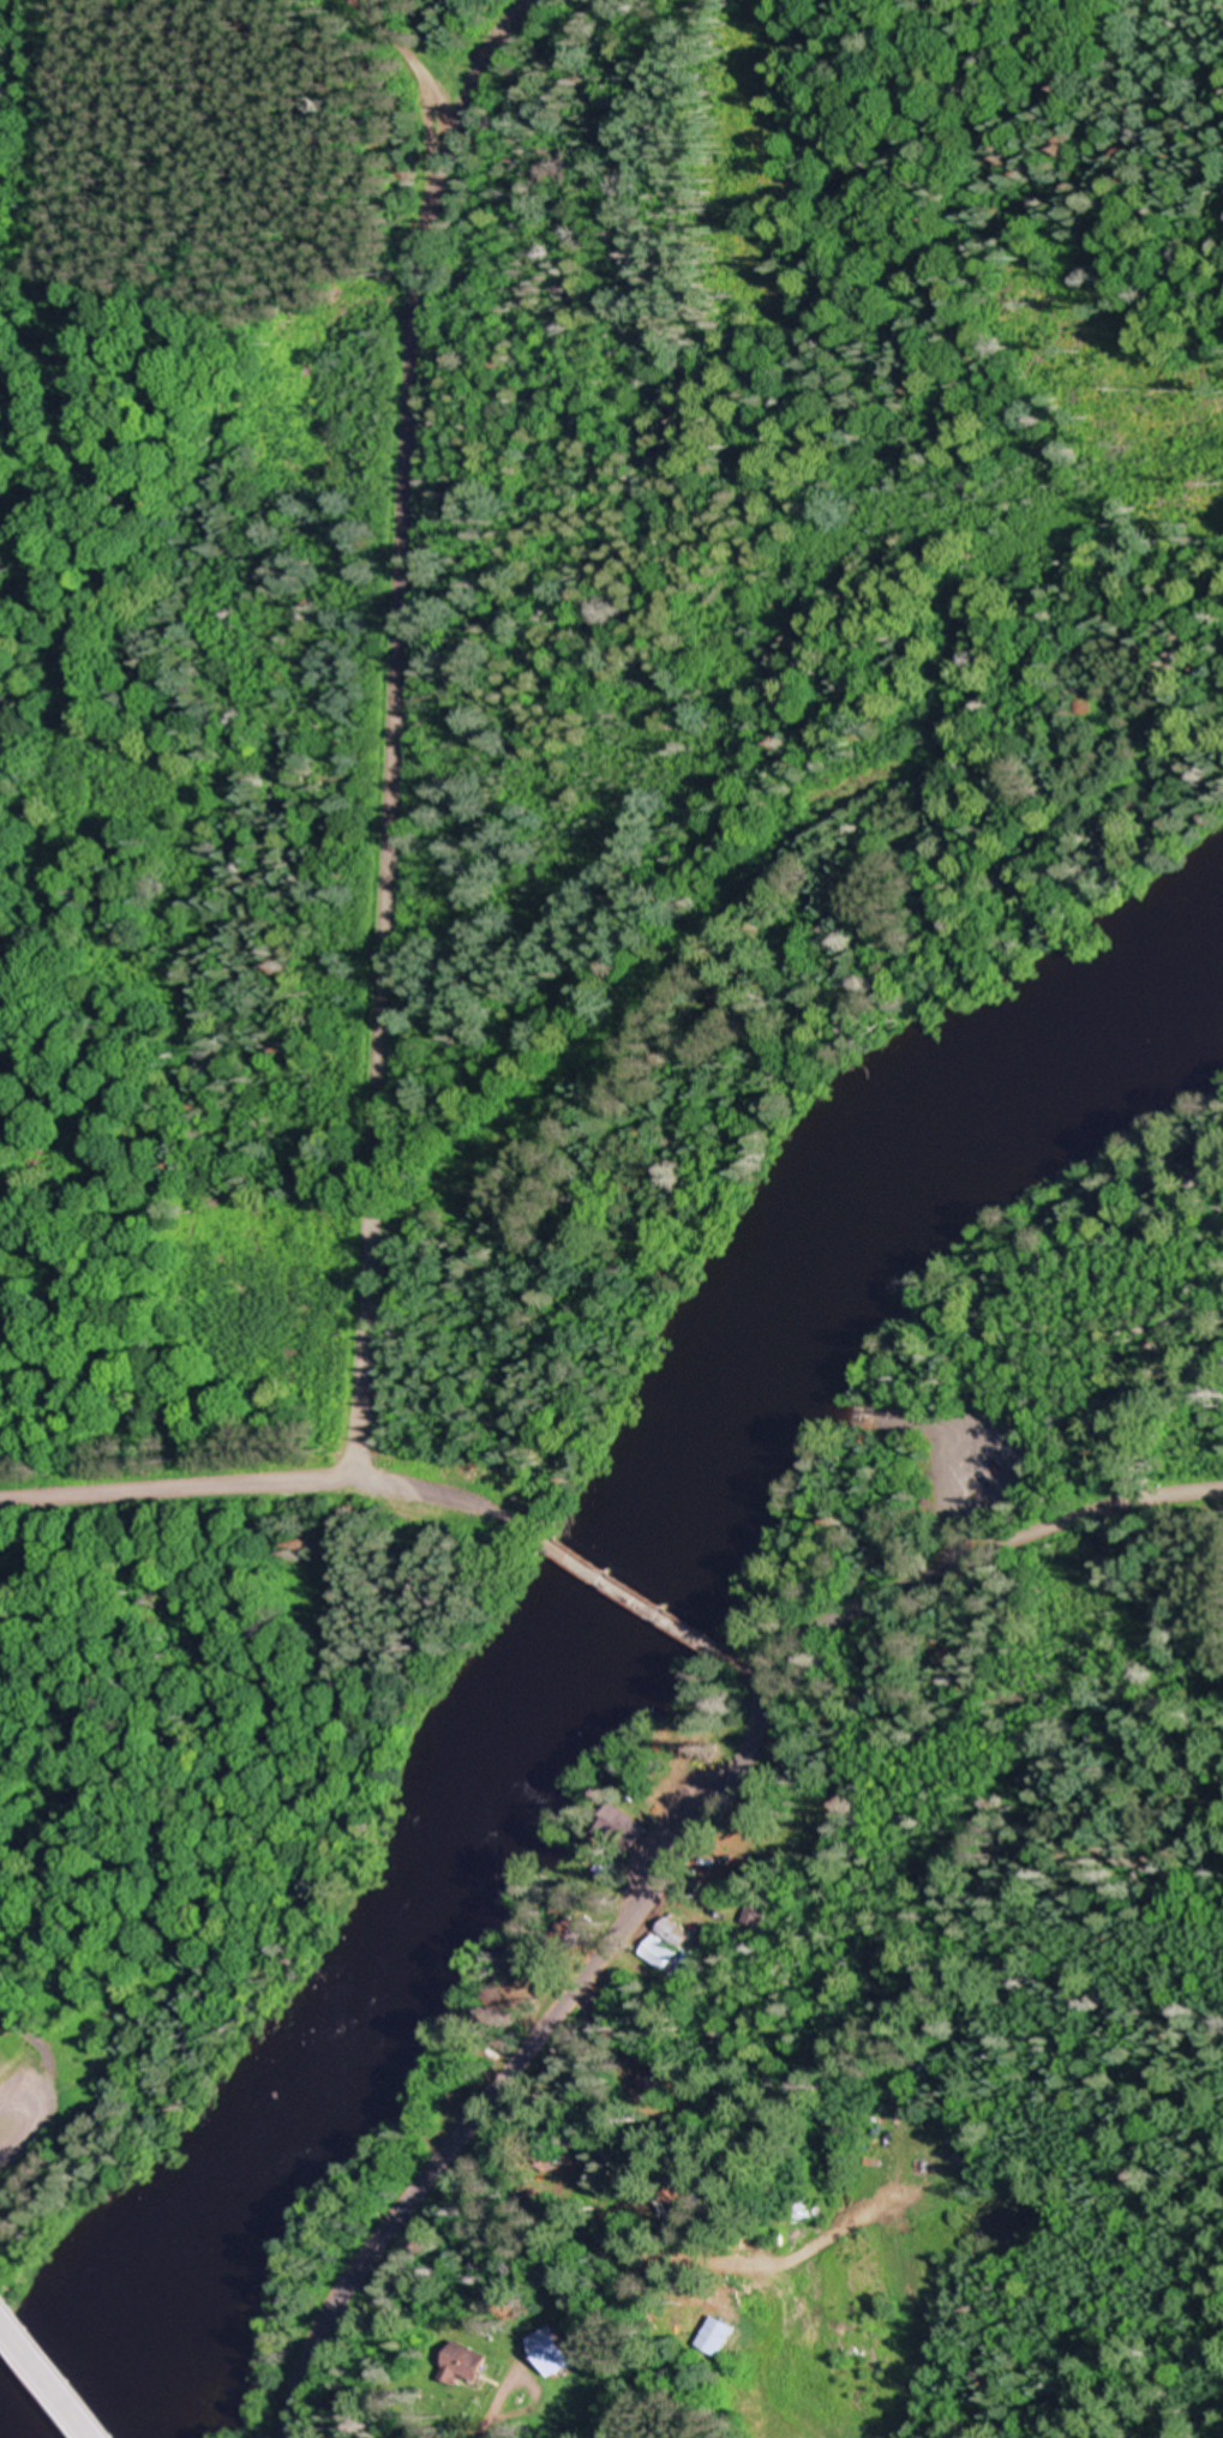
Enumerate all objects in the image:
road: (394, 726)
road: (645, 993)
parking lot: (985, 1467)
road: (269, 1482)
road: (981, 1550)
road: (630, 1593)
river: (584, 1659)
road: (750, 1668)
building: (619, 1827)
building: (757, 1920)
building: (658, 1956)
road: (528, 2056)
building: (651, 2088)
building: (712, 2340)
building: (548, 2354)
building: (462, 2367)
road: (47, 2378)

